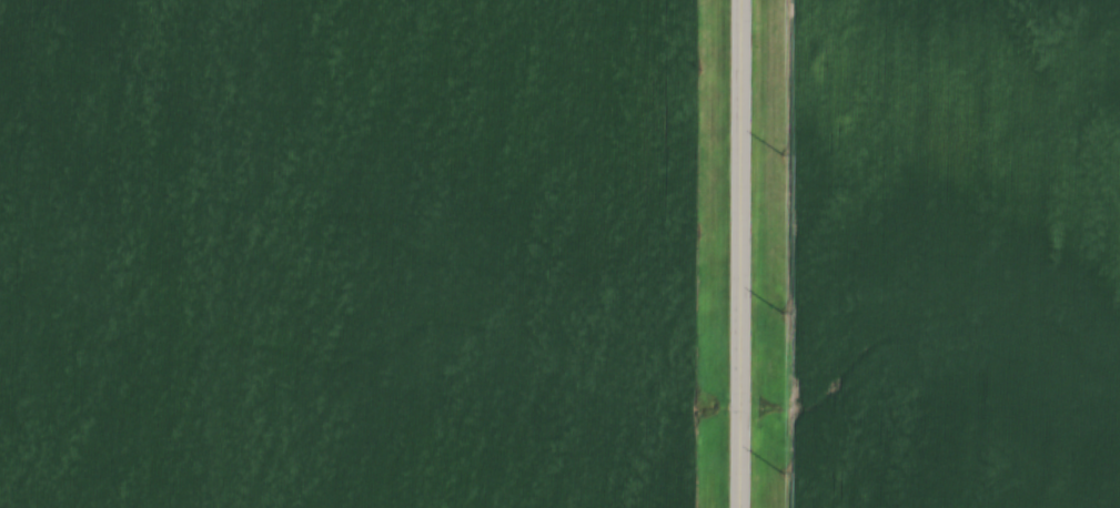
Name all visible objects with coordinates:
road: (747, 254)

